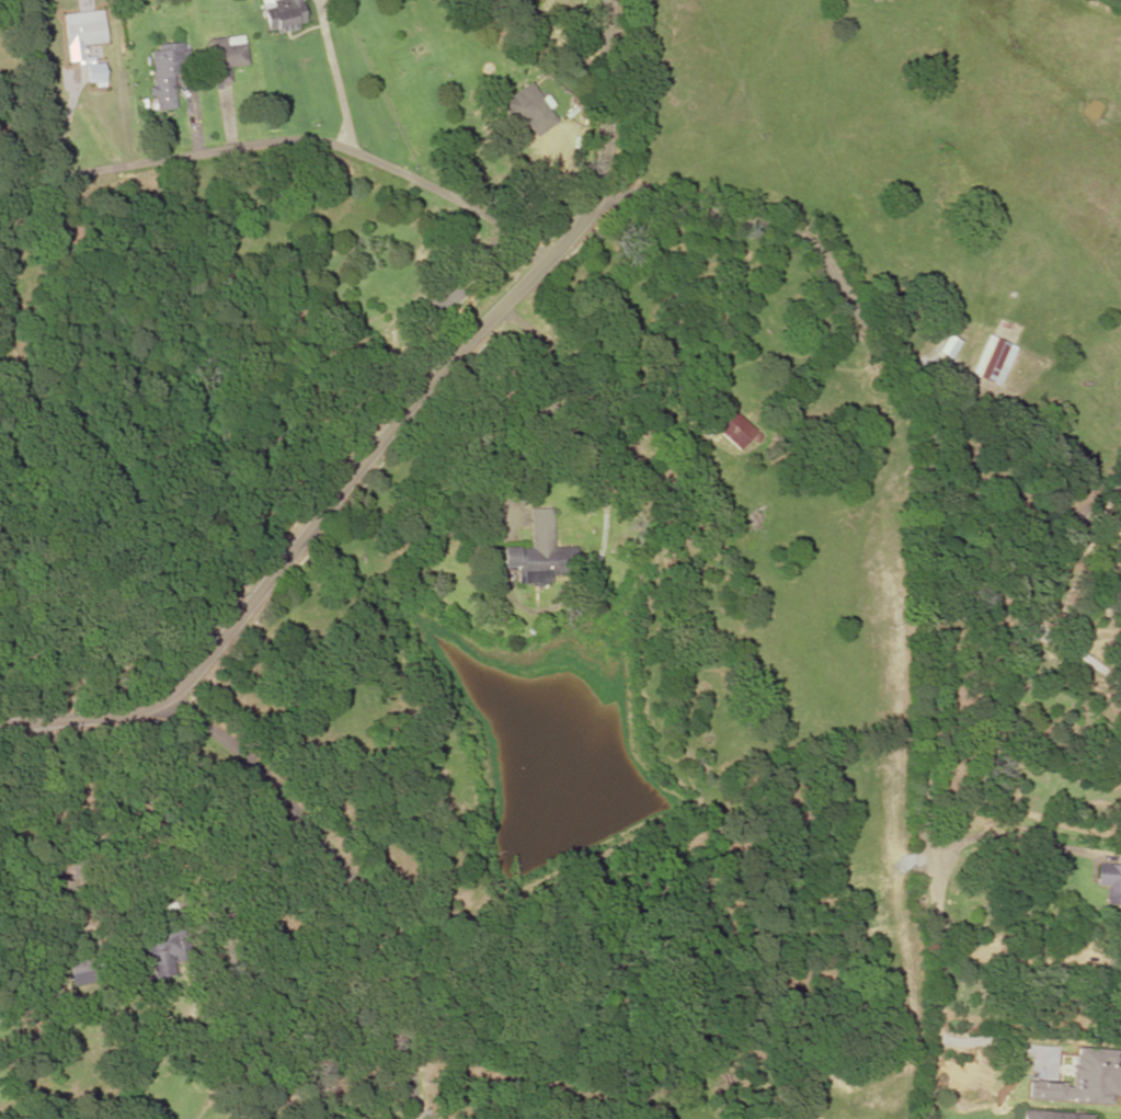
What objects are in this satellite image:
building: (284, 15)
building: (82, 33)
building: (226, 57)
building: (167, 73)
building: (528, 111)
road: (286, 137)
building: (438, 304)
building: (994, 361)
building: (725, 425)
road: (388, 430)
road: (934, 441)
building: (537, 548)
road: (981, 789)
road: (344, 882)
building: (1110, 882)
building: (163, 948)
building: (1118, 955)
building: (80, 962)
building: (1113, 1023)
building: (1054, 1115)

